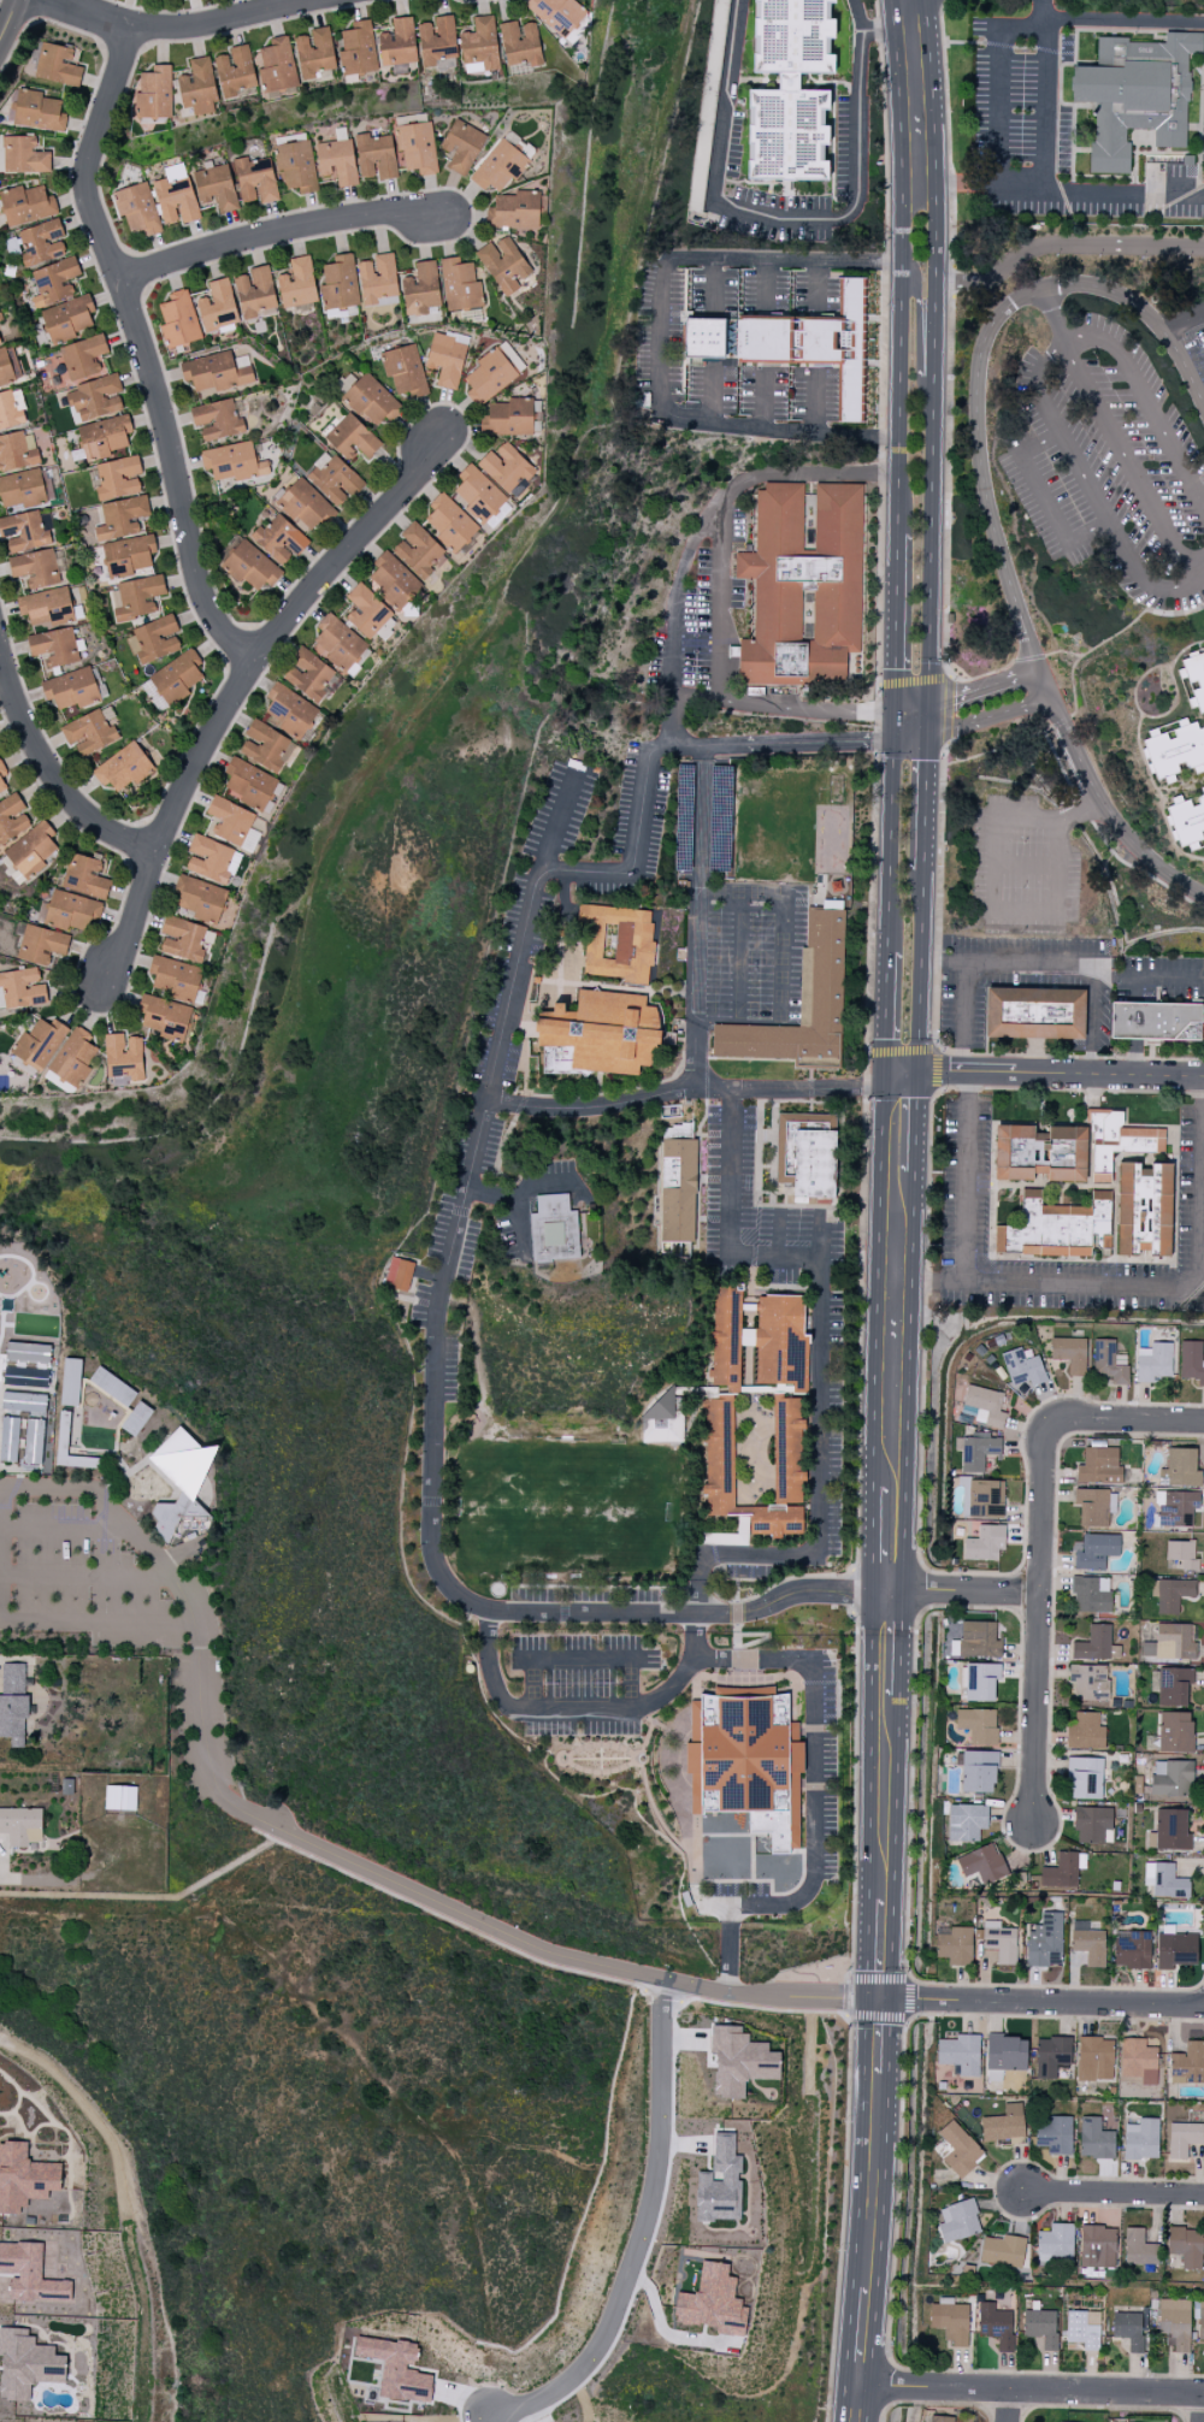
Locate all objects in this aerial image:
building: (556, 14)
road: (1040, 14)
road: (856, 16)
road: (8, 20)
road: (1122, 20)
road: (177, 24)
road: (878, 33)
building: (436, 41)
building: (397, 43)
building: (479, 45)
building: (519, 45)
building: (356, 49)
building: (314, 53)
building: (54, 64)
building: (276, 66)
building: (234, 71)
building: (197, 88)
building: (789, 90)
building: (154, 94)
building: (1134, 95)
building: (37, 112)
building: (415, 147)
building: (461, 147)
building: (374, 156)
building: (336, 161)
road: (931, 161)
building: (295, 166)
building: (498, 167)
building: (255, 181)
road: (1001, 181)
building: (216, 188)
road: (1120, 190)
building: (175, 197)
building: (25, 205)
building: (137, 209)
building: (514, 211)
road: (775, 218)
road: (273, 232)
building: (41, 243)
road: (1064, 248)
road: (781, 260)
building: (502, 265)
road: (905, 266)
building: (377, 278)
building: (52, 282)
building: (296, 284)
building: (338, 284)
building: (459, 285)
road: (815, 285)
road: (709, 286)
road: (763, 286)
building: (419, 289)
building: (255, 291)
road: (916, 301)
building: (217, 307)
road: (1053, 312)
building: (67, 318)
building: (178, 320)
road: (1182, 325)
road: (660, 335)
building: (707, 338)
building: (0, 343)
building: (813, 344)
road: (141, 349)
road: (933, 352)
building: (83, 359)
road: (1070, 359)
building: (445, 360)
building: (5, 368)
building: (403, 371)
building: (217, 372)
building: (490, 374)
road: (710, 392)
building: (94, 398)
road: (760, 398)
building: (370, 401)
road: (815, 402)
building: (8, 412)
building: (508, 418)
building: (217, 420)
road: (777, 427)
building: (104, 437)
building: (352, 438)
building: (16, 453)
building: (232, 462)
parking lot: (1123, 463)
building: (506, 468)
road: (807, 472)
building: (117, 477)
building: (332, 479)
road: (1086, 479)
building: (20, 490)
building: (476, 496)
road: (1043, 497)
road: (985, 502)
building: (305, 507)
building: (120, 518)
building: (449, 524)
building: (23, 532)
building: (279, 539)
road: (929, 540)
building: (417, 550)
building: (128, 555)
road: (720, 555)
building: (249, 567)
building: (34, 568)
building: (393, 581)
building: (802, 586)
building: (135, 597)
building: (46, 607)
building: (366, 612)
road: (898, 619)
building: (153, 640)
building: (337, 644)
building: (53, 646)
building: (1193, 672)
building: (308, 674)
building: (176, 677)
road: (240, 687)
road: (981, 687)
building: (71, 689)
traffic signals: (898, 703)
road: (913, 703)
traffic signals: (928, 704)
building: (289, 711)
road: (986, 719)
road: (927, 721)
road: (896, 722)
building: (89, 733)
traffic signals: (896, 736)
road: (910, 737)
traffic signals: (926, 738)
road: (783, 744)
building: (267, 748)
road: (659, 748)
building: (1175, 749)
building: (123, 768)
road: (53, 776)
building: (1, 784)
building: (249, 784)
road: (923, 804)
road: (1075, 811)
building: (12, 819)
building: (228, 821)
building: (1187, 822)
road: (554, 825)
building: (31, 849)
road: (892, 849)
building: (211, 859)
building: (84, 876)
building: (200, 899)
road: (1052, 900)
building: (69, 911)
building: (183, 939)
building: (616, 943)
building: (40, 945)
road: (739, 957)
road: (1084, 962)
road: (919, 971)
road: (1144, 977)
building: (175, 979)
building: (20, 988)
building: (799, 1006)
road: (887, 1012)
building: (1034, 1014)
road: (704, 1016)
building: (164, 1017)
building: (1155, 1021)
road: (502, 1034)
building: (598, 1034)
building: (37, 1044)
road: (698, 1052)
building: (123, 1057)
building: (71, 1059)
road: (1052, 1071)
road: (902, 1077)
road: (694, 1089)
road: (963, 1095)
road: (903, 1129)
building: (1116, 1141)
building: (1039, 1153)
building: (805, 1159)
road: (730, 1174)
road: (520, 1189)
building: (677, 1191)
road: (489, 1195)
building: (1143, 1209)
building: (553, 1228)
road: (777, 1236)
road: (774, 1259)
building: (397, 1274)
road: (1122, 1281)
road: (1188, 1284)
road: (899, 1329)
building: (725, 1335)
building: (780, 1342)
building: (1069, 1354)
building: (1152, 1361)
building: (1191, 1361)
building: (1106, 1363)
building: (10, 1365)
building: (1022, 1367)
road: (816, 1387)
building: (23, 1402)
building: (985, 1405)
building: (972, 1413)
building: (135, 1419)
building: (661, 1419)
road: (1128, 1419)
building: (67, 1425)
building: (8, 1440)
building: (33, 1442)
building: (975, 1451)
building: (786, 1452)
building: (718, 1457)
building: (1098, 1466)
building: (1179, 1469)
building: (179, 1482)
road: (89, 1494)
building: (985, 1499)
building: (1091, 1507)
park: (565, 1508)
building: (1175, 1508)
building: (775, 1520)
road: (64, 1534)
road: (892, 1540)
building: (984, 1544)
building: (1093, 1552)
road: (727, 1555)
building: (1179, 1555)
road: (79, 1578)
road: (964, 1591)
building: (1170, 1594)
building: (1090, 1595)
road: (474, 1602)
parking lot: (119, 1606)
road: (734, 1614)
road: (1038, 1623)
road: (99, 1625)
building: (978, 1640)
building: (1170, 1643)
road: (890, 1644)
building: (1096, 1644)
road: (628, 1661)
road: (486, 1668)
road: (811, 1682)
building: (980, 1682)
building: (1088, 1682)
parking lot: (579, 1685)
building: (1169, 1685)
road: (666, 1690)
building: (13, 1703)
building: (976, 1725)
building: (1085, 1732)
building: (1174, 1732)
building: (745, 1762)
building: (978, 1772)
building: (1084, 1778)
building: (1170, 1778)
building: (119, 1798)
road: (885, 1798)
building: (966, 1823)
building: (1091, 1824)
building: (20, 1826)
building: (1169, 1831)
building: (980, 1863)
building: (1060, 1872)
building: (1163, 1880)
road: (150, 1910)
road: (455, 1918)
building: (999, 1942)
building: (1045, 1942)
building: (954, 1945)
building: (1088, 1947)
road: (880, 1948)
building: (1131, 1949)
building: (1174, 1950)
traffic signals: (880, 1997)
road: (1041, 2001)
road: (910, 2019)
road: (878, 2032)
building: (960, 2054)
building: (1004, 2056)
building: (1050, 2056)
building: (1094, 2058)
building: (738, 2061)
building: (1138, 2061)
building: (1187, 2063)
building: (1004, 2126)
building: (1055, 2136)
building: (1094, 2139)
building: (1140, 2139)
building: (1182, 2139)
building: (940, 2149)
building: (958, 2150)
building: (24, 2178)
road: (872, 2179)
building: (719, 2182)
road: (1114, 2192)
building: (957, 2221)
road: (641, 2233)
building: (1055, 2244)
building: (1097, 2246)
building: (1185, 2246)
building: (1138, 2249)
building: (1002, 2251)
building: (29, 2274)
building: (712, 2302)
building: (1199, 2318)
building: (950, 2322)
building: (1174, 2323)
building: (995, 2326)
building: (1040, 2327)
building: (1082, 2329)
building: (1129, 2331)
road: (861, 2337)
building: (25, 2364)
building: (396, 2369)
road: (1029, 2389)
road: (855, 2403)
road: (1008, 2405)
road: (1203, 2416)
building: (940, 2418)

